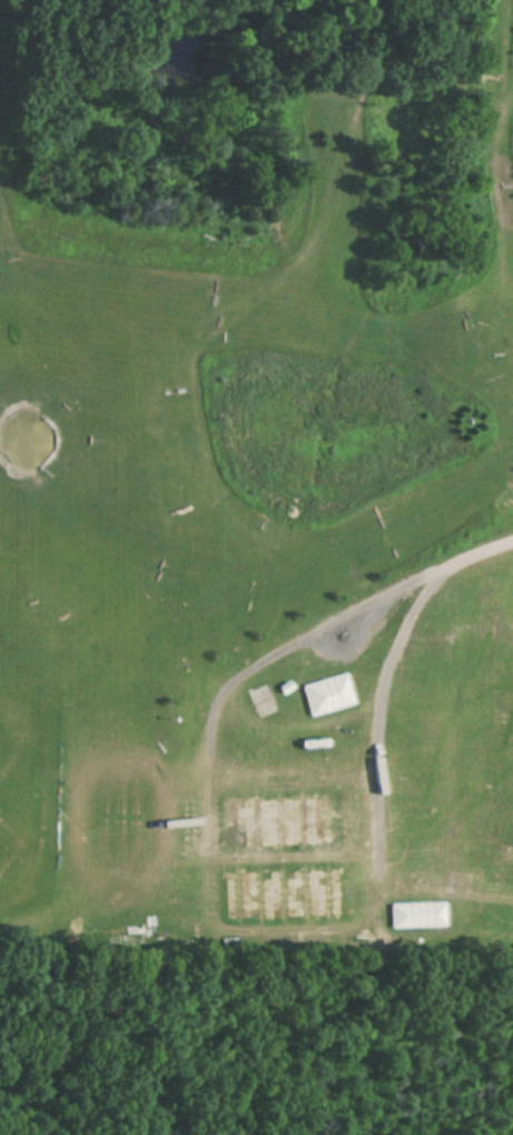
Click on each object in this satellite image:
road: (481, 554)
road: (305, 639)
road: (379, 709)

